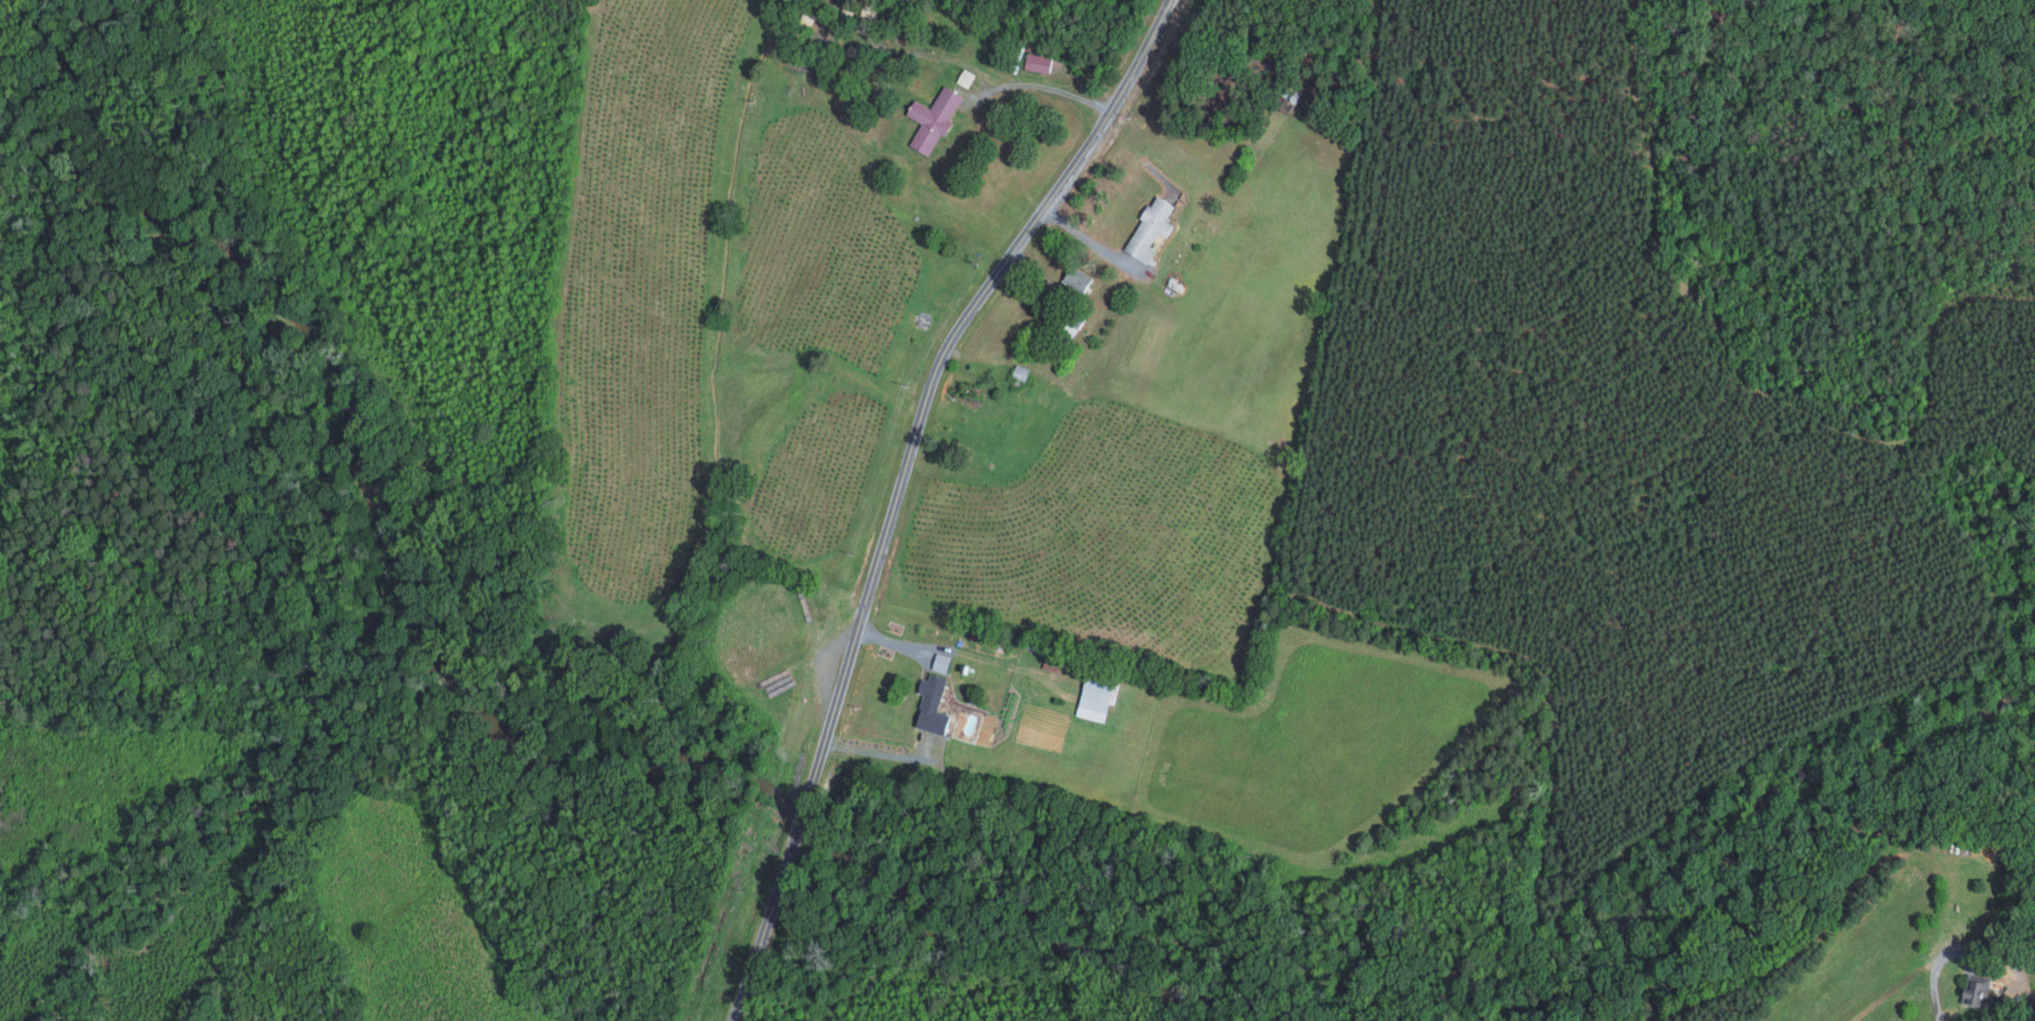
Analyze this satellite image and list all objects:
building: (864, 18)
building: (1037, 62)
building: (965, 78)
road: (1044, 85)
building: (933, 118)
building: (1150, 229)
road: (1086, 237)
building: (1125, 258)
building: (1073, 282)
building: (1020, 372)
road: (897, 485)
building: (941, 661)
building: (932, 703)
road: (876, 750)
road: (1933, 971)
building: (1977, 992)

